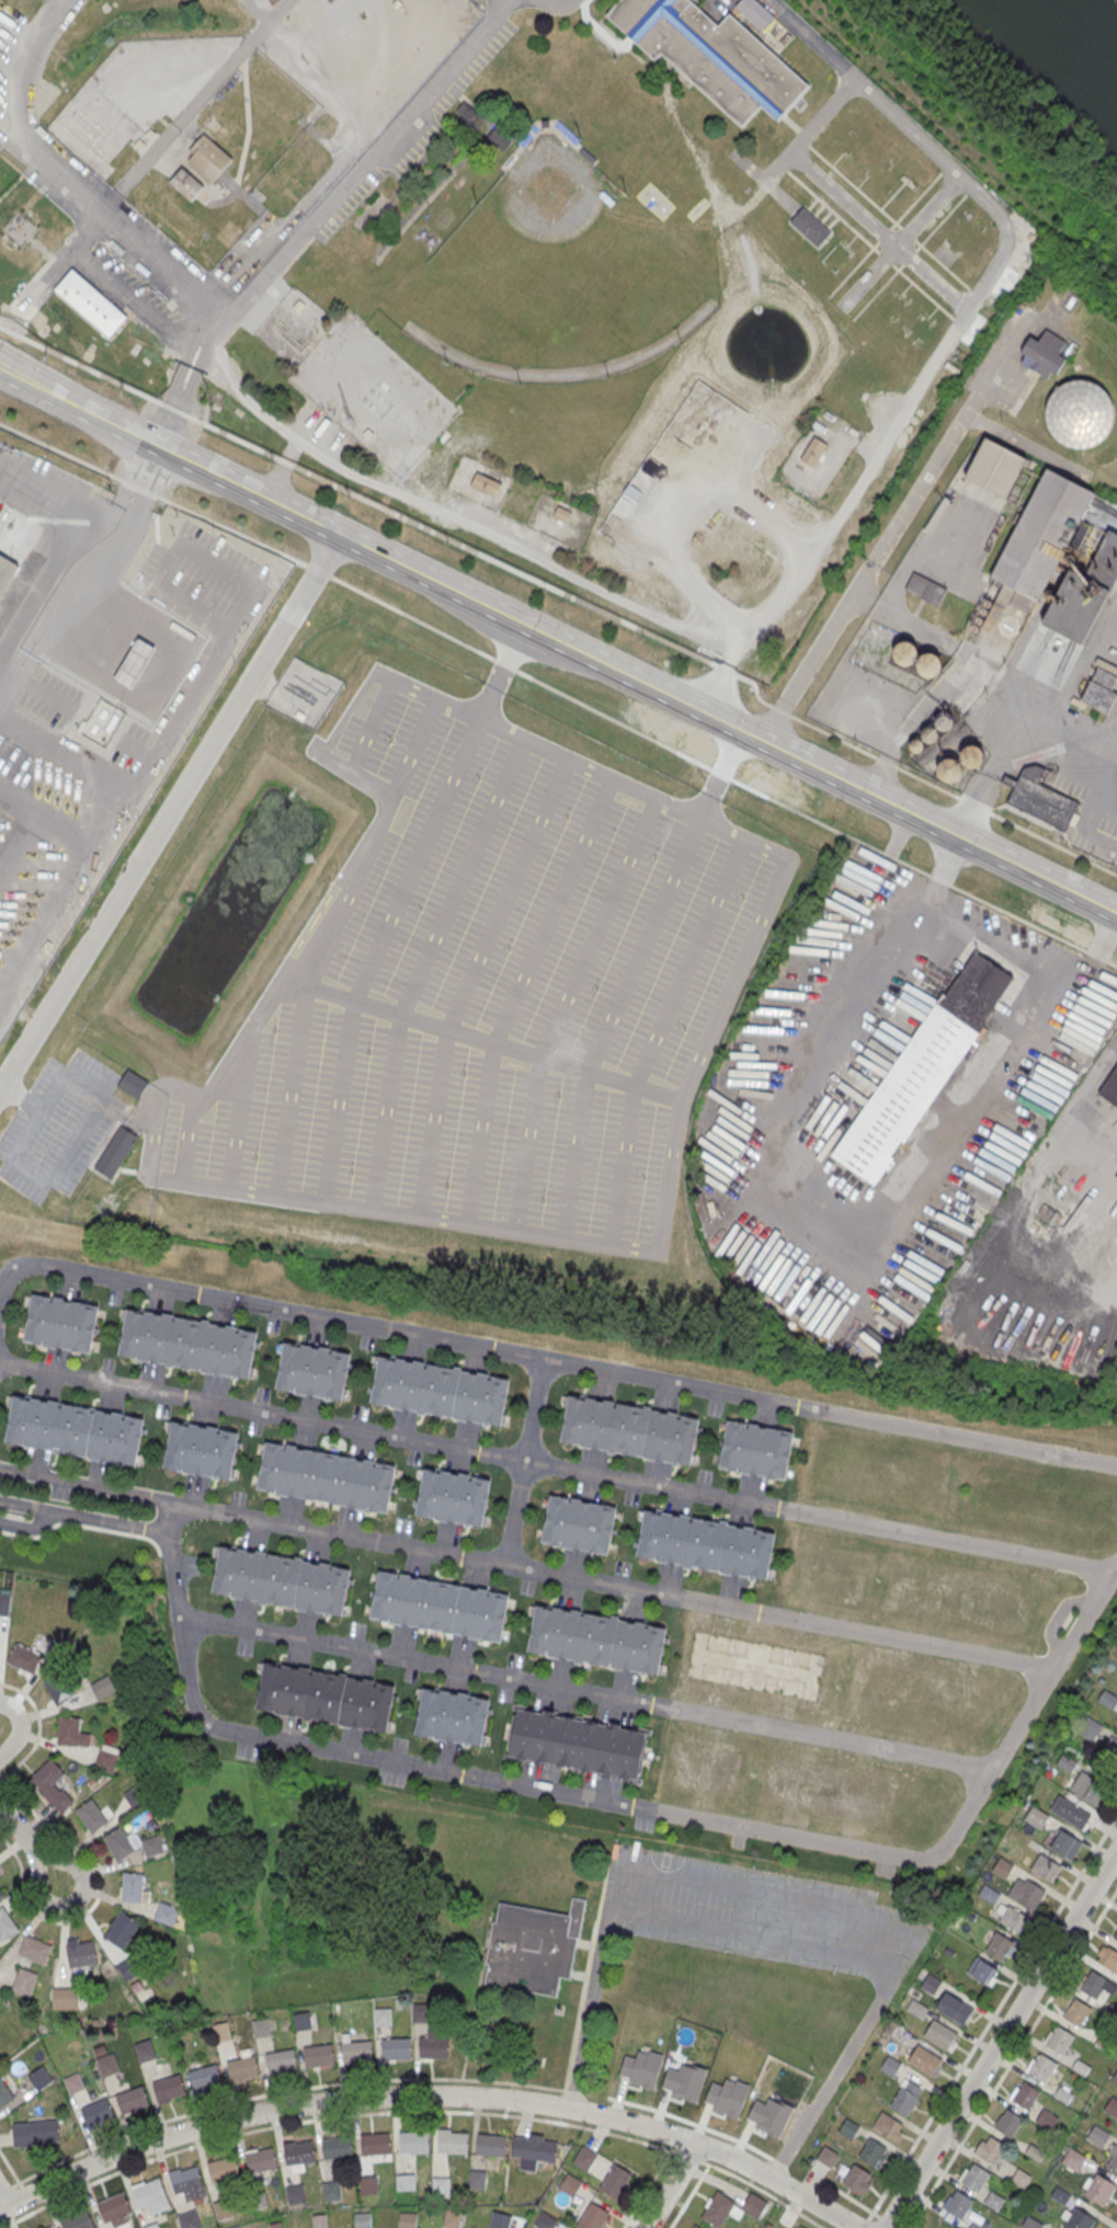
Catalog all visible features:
road: (562, 0)
road: (505, 1)
building: (332, 2)
building: (756, 11)
road: (259, 12)
river: (1073, 39)
building: (713, 54)
road: (31, 67)
building: (144, 92)
road: (196, 104)
park: (989, 116)
road: (812, 129)
road: (806, 142)
building: (210, 157)
road: (784, 167)
road: (945, 168)
road: (327, 175)
building: (760, 179)
road: (765, 179)
building: (186, 183)
road: (855, 185)
road: (970, 190)
road: (915, 199)
road: (991, 203)
road: (833, 210)
road: (941, 221)
road: (94, 222)
building: (810, 225)
road: (879, 230)
road: (908, 232)
road: (884, 235)
road: (900, 241)
building: (19, 242)
road: (290, 248)
road: (157, 254)
road: (910, 256)
road: (886, 258)
road: (943, 263)
parking lot: (146, 265)
road: (853, 268)
park: (555, 277)
road: (923, 289)
road: (878, 290)
road: (974, 290)
road: (121, 292)
building: (90, 302)
road: (957, 320)
road: (10, 331)
road: (183, 342)
park: (613, 349)
road: (196, 354)
building: (1044, 354)
road: (90, 368)
road: (173, 407)
building: (1080, 413)
building: (813, 452)
building: (993, 468)
building: (486, 483)
road: (136, 502)
building: (563, 513)
road: (54, 523)
road: (892, 533)
building: (1058, 558)
building: (5, 569)
road: (645, 608)
road: (923, 626)
road: (55, 628)
road: (658, 636)
road: (557, 642)
building: (916, 660)
building: (135, 663)
building: (1101, 688)
road: (558, 692)
road: (1011, 729)
road: (901, 731)
road: (92, 766)
building: (1041, 799)
road: (168, 813)
building: (111, 821)
building: (5, 832)
road: (21, 846)
road: (73, 878)
road: (998, 946)
park: (418, 986)
building: (923, 1069)
building: (134, 1083)
building: (1109, 1088)
road: (102, 1097)
road: (22, 1099)
parking lot: (59, 1127)
building: (117, 1152)
road: (827, 1223)
building: (237, 1238)
building: (60, 1323)
building: (189, 1344)
road: (545, 1359)
building: (314, 1369)
building: (440, 1389)
building: (630, 1429)
building: (75, 1430)
building: (201, 1448)
building: (755, 1449)
road: (524, 1461)
road: (556, 1465)
building: (326, 1476)
road: (87, 1483)
building: (453, 1495)
road: (84, 1515)
building: (578, 1522)
building: (706, 1543)
building: (281, 1579)
road: (614, 1583)
building: (4, 1604)
building: (441, 1604)
building: (597, 1639)
building: (24, 1659)
building: (103, 1687)
building: (60, 1690)
road: (588, 1691)
building: (326, 1695)
building: (1107, 1699)
building: (452, 1715)
building: (1090, 1727)
road: (38, 1728)
road: (19, 1729)
building: (71, 1733)
building: (577, 1743)
building: (1109, 1751)
building: (106, 1757)
building: (1064, 1761)
building: (50, 1785)
building: (1087, 1787)
building: (135, 1798)
road: (629, 1803)
building: (1075, 1815)
building: (92, 1817)
building: (1036, 1817)
road: (20, 1831)
building: (1063, 1842)
building: (119, 1844)
building: (1045, 1866)
building: (1002, 1867)
building: (133, 1888)
road: (768, 1892)
building: (1026, 1892)
road: (100, 1894)
building: (1, 1895)
road: (75, 1903)
building: (166, 1915)
parking lot: (761, 1915)
building: (1013, 1918)
building: (5, 1926)
building: (121, 1930)
road: (757, 1934)
building: (1115, 1935)
building: (533, 1945)
building: (1000, 1946)
building: (35, 1951)
building: (80, 1954)
building: (1107, 1957)
building: (982, 1970)
road: (586, 1973)
building: (24, 1983)
building: (930, 1983)
building: (1093, 1984)
road: (594, 1986)
building: (65, 1999)
building: (915, 2008)
building: (954, 2008)
building: (1076, 2011)
building: (420, 2012)
road: (992, 2015)
building: (384, 2016)
building: (301, 2022)
building: (900, 2034)
building: (941, 2034)
road: (1001, 2037)
building: (1059, 2038)
building: (434, 2047)
building: (397, 2049)
road: (851, 2049)
building: (357, 2053)
building: (318, 2056)
road: (1012, 2056)
building: (924, 2059)
building: (282, 2063)
building: (889, 2065)
building: (107, 2066)
building: (1042, 2067)
building: (242, 2069)
building: (205, 2078)
building: (1116, 2079)
building: (169, 2089)
road: (572, 2091)
road: (272, 2092)
building: (1025, 2094)
building: (4, 2095)
road: (432, 2096)
building: (905, 2096)
building: (727, 2098)
building: (133, 2100)
building: (1113, 2109)
building: (98, 2113)
road: (333, 2116)
building: (770, 2116)
road: (682, 2120)
building: (1046, 2120)
building: (1007, 2122)
building: (887, 2124)
building: (848, 2128)
building: (35, 2133)
building: (1099, 2138)
building: (414, 2143)
building: (453, 2144)
building: (376, 2145)
building: (491, 2146)
building: (989, 2148)
building: (337, 2149)
building: (534, 2149)
building: (873, 2152)
building: (298, 2153)
building: (827, 2156)
road: (691, 2157)
building: (584, 2158)
building: (261, 2160)
building: (1074, 2161)
building: (1113, 2161)
road: (705, 2162)
road: (783, 2164)
road: (11, 2169)
building: (224, 2170)
building: (974, 2176)
building: (857, 2179)
building: (1021, 2179)
building: (186, 2181)
road: (810, 2181)
building: (615, 2182)
building: (406, 2183)
building: (570, 2184)
road: (750, 2184)
building: (368, 2186)
building: (441, 2186)
road: (671, 2186)
road: (646, 2189)
building: (1099, 2189)
road: (24, 2192)
building: (331, 2192)
road: (846, 2195)
building: (296, 2196)
road: (689, 2196)
building: (152, 2197)
road: (4, 2198)
building: (259, 2201)
building: (994, 2203)
building: (958, 2204)
building: (114, 2208)
building: (224, 2209)
building: (717, 2210)
building: (592, 2217)
building: (452, 2218)
road: (806, 2218)
building: (1078, 2219)
building: (190, 2220)
building: (363, 2220)
building: (408, 2220)
building: (499, 2220)
building: (78, 2221)
building: (319, 2221)
building: (978, 2221)
road: (888, 2223)
road: (864, 2224)
building: (943, 2224)
road: (1115, 2225)
building: (155, 2226)
building: (49, 2227)
building: (236, 2227)
building: (695, 2227)
building: (805, 2227)

